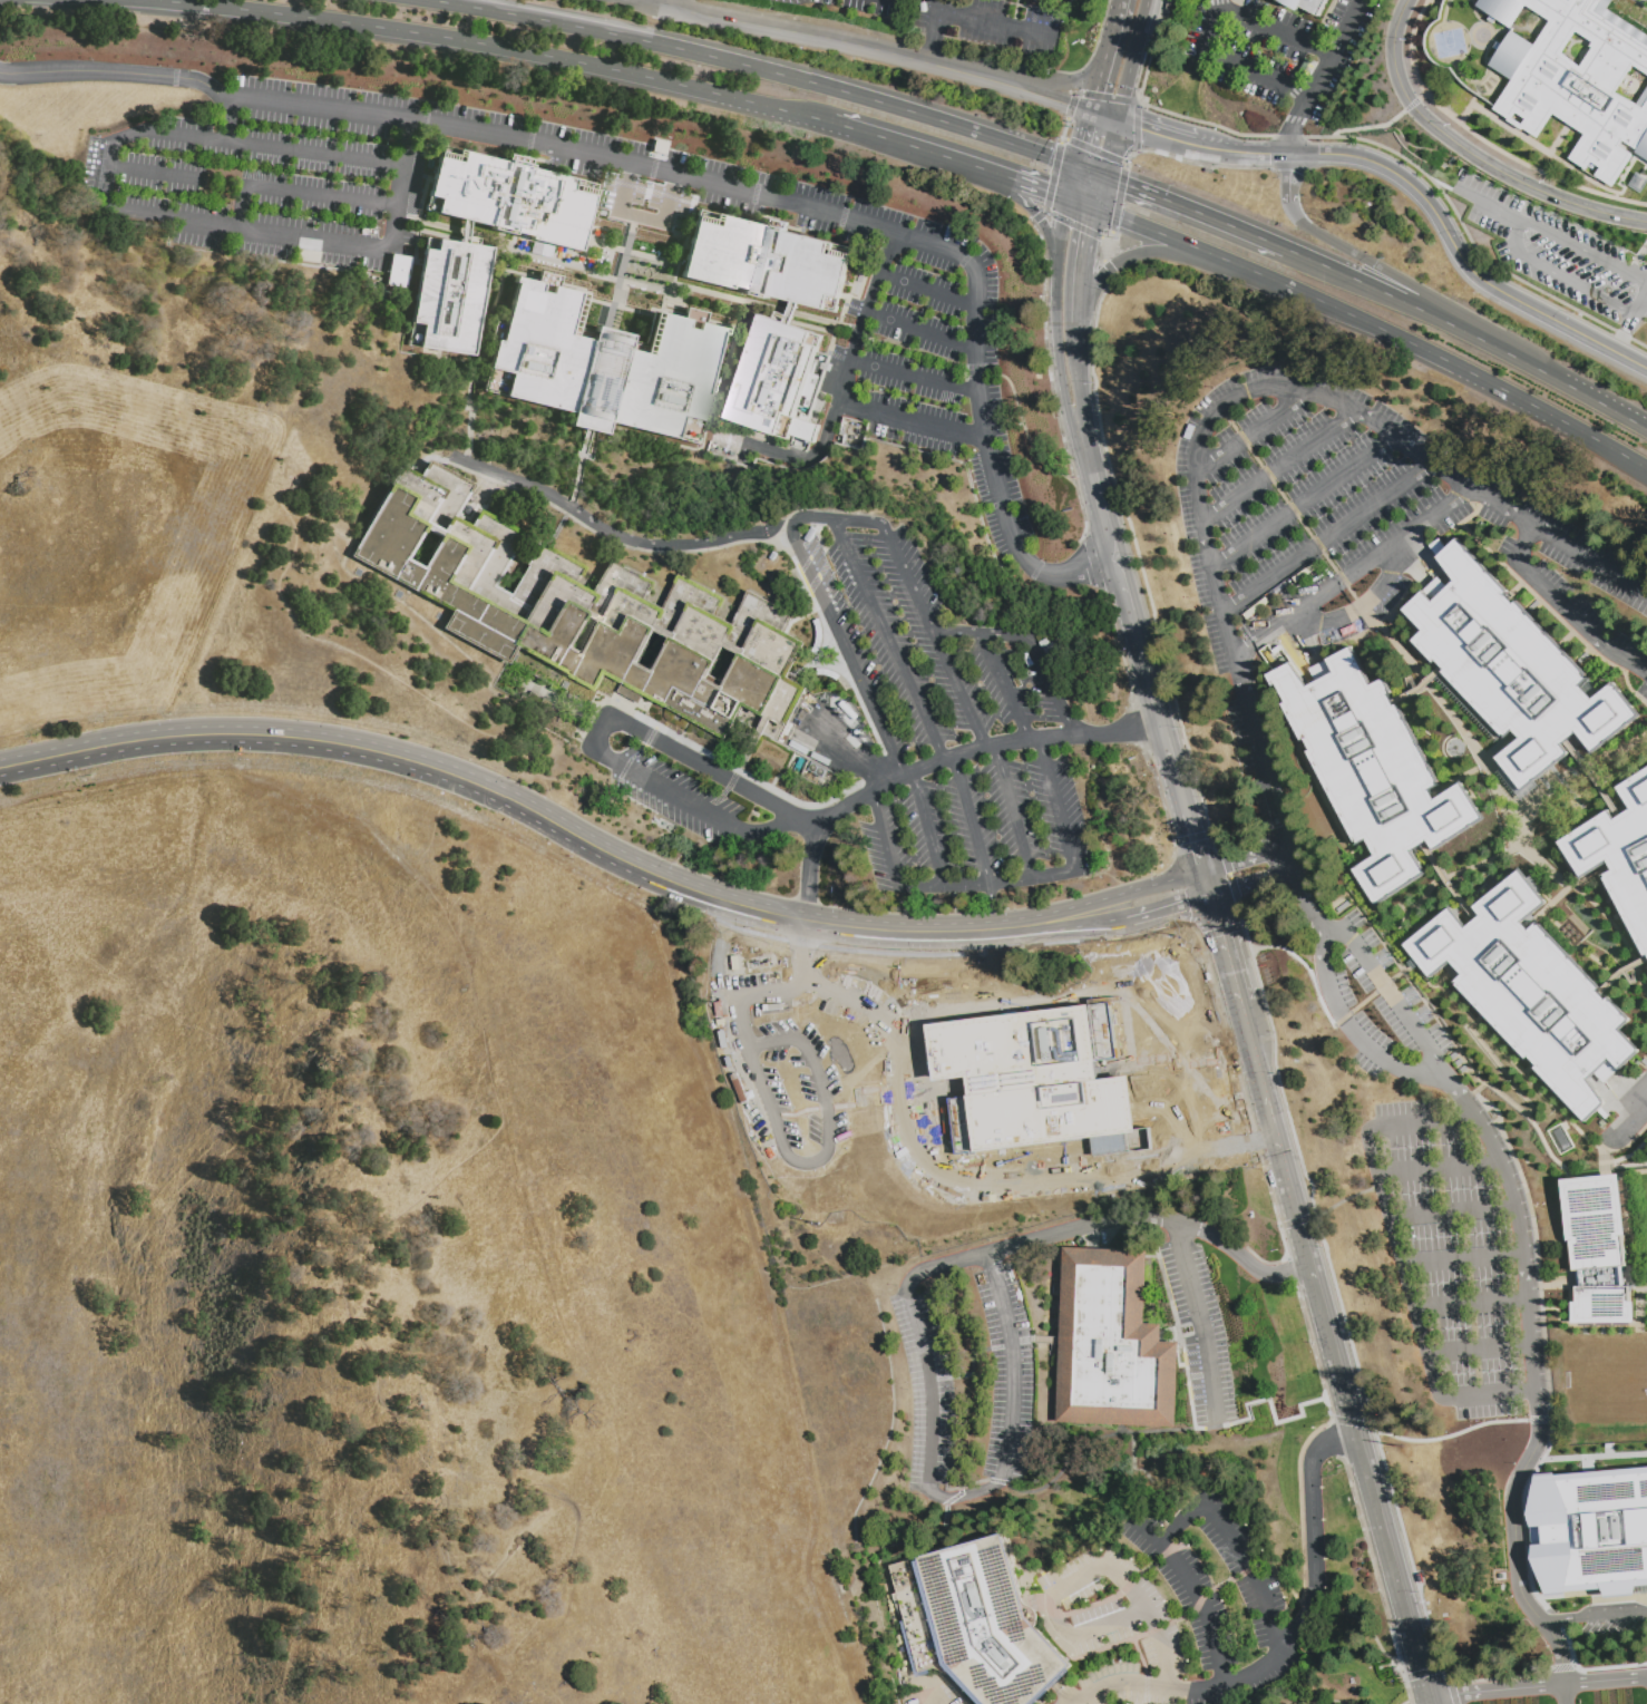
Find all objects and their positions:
road: (2, 1)
road: (647, 3)
road: (670, 3)
building: (1310, 6)
road: (1120, 7)
road: (939, 8)
road: (1142, 16)
road: (995, 27)
road: (1271, 30)
road: (799, 32)
road: (1112, 38)
road: (933, 39)
park: (1448, 43)
road: (504, 47)
road: (1336, 49)
road: (1238, 66)
road: (750, 69)
road: (109, 70)
road: (978, 76)
road: (1128, 76)
building: (1575, 80)
road: (1069, 82)
road: (1099, 87)
road: (1060, 103)
traffic signals: (1092, 111)
road: (228, 113)
road: (1104, 115)
traffic signals: (1117, 119)
road: (1297, 125)
road: (1156, 132)
road: (1083, 138)
road: (1109, 147)
road: (913, 148)
road: (1215, 149)
road: (1264, 153)
road: (1471, 154)
traffic signals: (1076, 166)
road: (1090, 171)
road: (99, 173)
road: (995, 174)
road: (150, 175)
traffic signals: (1103, 176)
road: (1288, 176)
road: (1072, 183)
road: (1003, 185)
road: (400, 186)
road: (299, 188)
road: (1043, 189)
road: (1099, 193)
road: (748, 194)
building: (510, 196)
traffic signals: (1068, 199)
road: (1081, 204)
road: (1489, 204)
traffic signals: (1095, 210)
road: (1195, 214)
road: (642, 218)
building: (464, 227)
road: (1060, 230)
road: (1044, 234)
building: (598, 235)
road: (1159, 235)
road: (1085, 242)
road: (1518, 250)
parking lot: (1558, 252)
road: (1463, 257)
road: (1127, 260)
building: (767, 263)
building: (382, 265)
building: (393, 273)
road: (1643, 276)
building: (406, 277)
road: (1346, 277)
building: (861, 281)
road: (1643, 282)
road: (929, 292)
building: (450, 296)
building: (392, 300)
road: (1078, 300)
road: (1446, 304)
road: (923, 331)
road: (1056, 335)
road: (1508, 354)
road: (1440, 359)
building: (606, 367)
road: (1075, 367)
road: (918, 379)
road: (849, 381)
building: (777, 383)
road: (1271, 389)
road: (1628, 418)
road: (915, 421)
road: (1253, 432)
road: (1080, 441)
road: (1278, 465)
road: (1304, 500)
road: (811, 515)
road: (1102, 516)
road: (1473, 516)
road: (861, 520)
road: (617, 535)
road: (1329, 537)
road: (1063, 574)
road: (1355, 574)
road: (1123, 584)
road: (1516, 592)
building: (803, 594)
road: (1397, 606)
road: (1361, 608)
road: (1565, 608)
building: (582, 612)
road: (1556, 615)
road: (981, 633)
road: (935, 637)
road: (888, 639)
building: (819, 640)
road: (1352, 640)
road: (1567, 641)
road: (844, 649)
road: (1412, 666)
road: (1147, 669)
building: (1510, 670)
building: (829, 676)
road: (1601, 681)
road: (1005, 687)
road: (1052, 687)
road: (1421, 688)
road: (595, 736)
road: (1500, 748)
road: (1170, 751)
road: (856, 754)
road: (935, 762)
road: (704, 767)
building: (1373, 768)
road: (1596, 778)
road: (1461, 779)
road: (669, 791)
road: (1471, 791)
road: (1181, 795)
road: (506, 797)
road: (1324, 799)
road: (1058, 804)
road: (1014, 808)
road: (1275, 808)
road: (1334, 808)
road: (971, 818)
road: (805, 821)
road: (761, 830)
road: (1195, 843)
building: (1619, 856)
road: (1245, 859)
road: (1054, 872)
road: (1011, 878)
road: (1296, 882)
road: (964, 883)
road: (1207, 883)
road: (1250, 883)
road: (1448, 883)
road: (928, 884)
road: (1566, 892)
road: (1363, 894)
road: (1424, 896)
road: (1471, 899)
road: (1100, 900)
road: (993, 906)
road: (1168, 906)
road: (1602, 913)
road: (1416, 924)
road: (1062, 929)
road: (1572, 932)
road: (1578, 946)
road: (1227, 954)
road: (719, 961)
road: (1621, 974)
road: (1400, 975)
road: (1316, 986)
road: (1386, 986)
building: (1533, 993)
road: (973, 996)
road: (1480, 1019)
road: (1346, 1021)
road: (1472, 1025)
road: (1251, 1042)
road: (828, 1048)
road: (737, 1061)
road: (1521, 1069)
road: (1530, 1070)
building: (1049, 1079)
road: (1454, 1088)
road: (915, 1090)
building: (1235, 1097)
road: (1528, 1102)
road: (1268, 1104)
road: (1630, 1114)
road: (889, 1120)
building: (1170, 1126)
road: (1533, 1127)
building: (1170, 1136)
building: (1080, 1145)
road: (1119, 1153)
road: (1605, 1156)
road: (1561, 1168)
road: (1440, 1170)
building: (1024, 1171)
road: (1607, 1172)
building: (1063, 1177)
road: (1123, 1181)
building: (1643, 1184)
building: (1050, 1186)
building: (945, 1201)
road: (1453, 1213)
road: (1112, 1223)
building: (906, 1237)
road: (1521, 1242)
building: (1599, 1250)
road: (1400, 1256)
road: (1462, 1258)
road: (1471, 1303)
road: (1303, 1316)
road: (1203, 1325)
road: (1631, 1331)
building: (1112, 1344)
road: (1479, 1350)
park: (1604, 1381)
road: (1271, 1414)
road: (1536, 1416)
road: (1355, 1421)
road: (980, 1491)
building: (1618, 1532)
road: (1238, 1546)
road: (1083, 1574)
road: (1517, 1576)
road: (1196, 1594)
road: (1596, 1615)
building: (975, 1624)
road: (1294, 1638)
road: (1605, 1681)
road: (1497, 1690)
road: (958, 1691)
road: (1148, 1694)
parking lot: (936, 1697)
road: (1420, 1700)
road: (1329, 1703)

